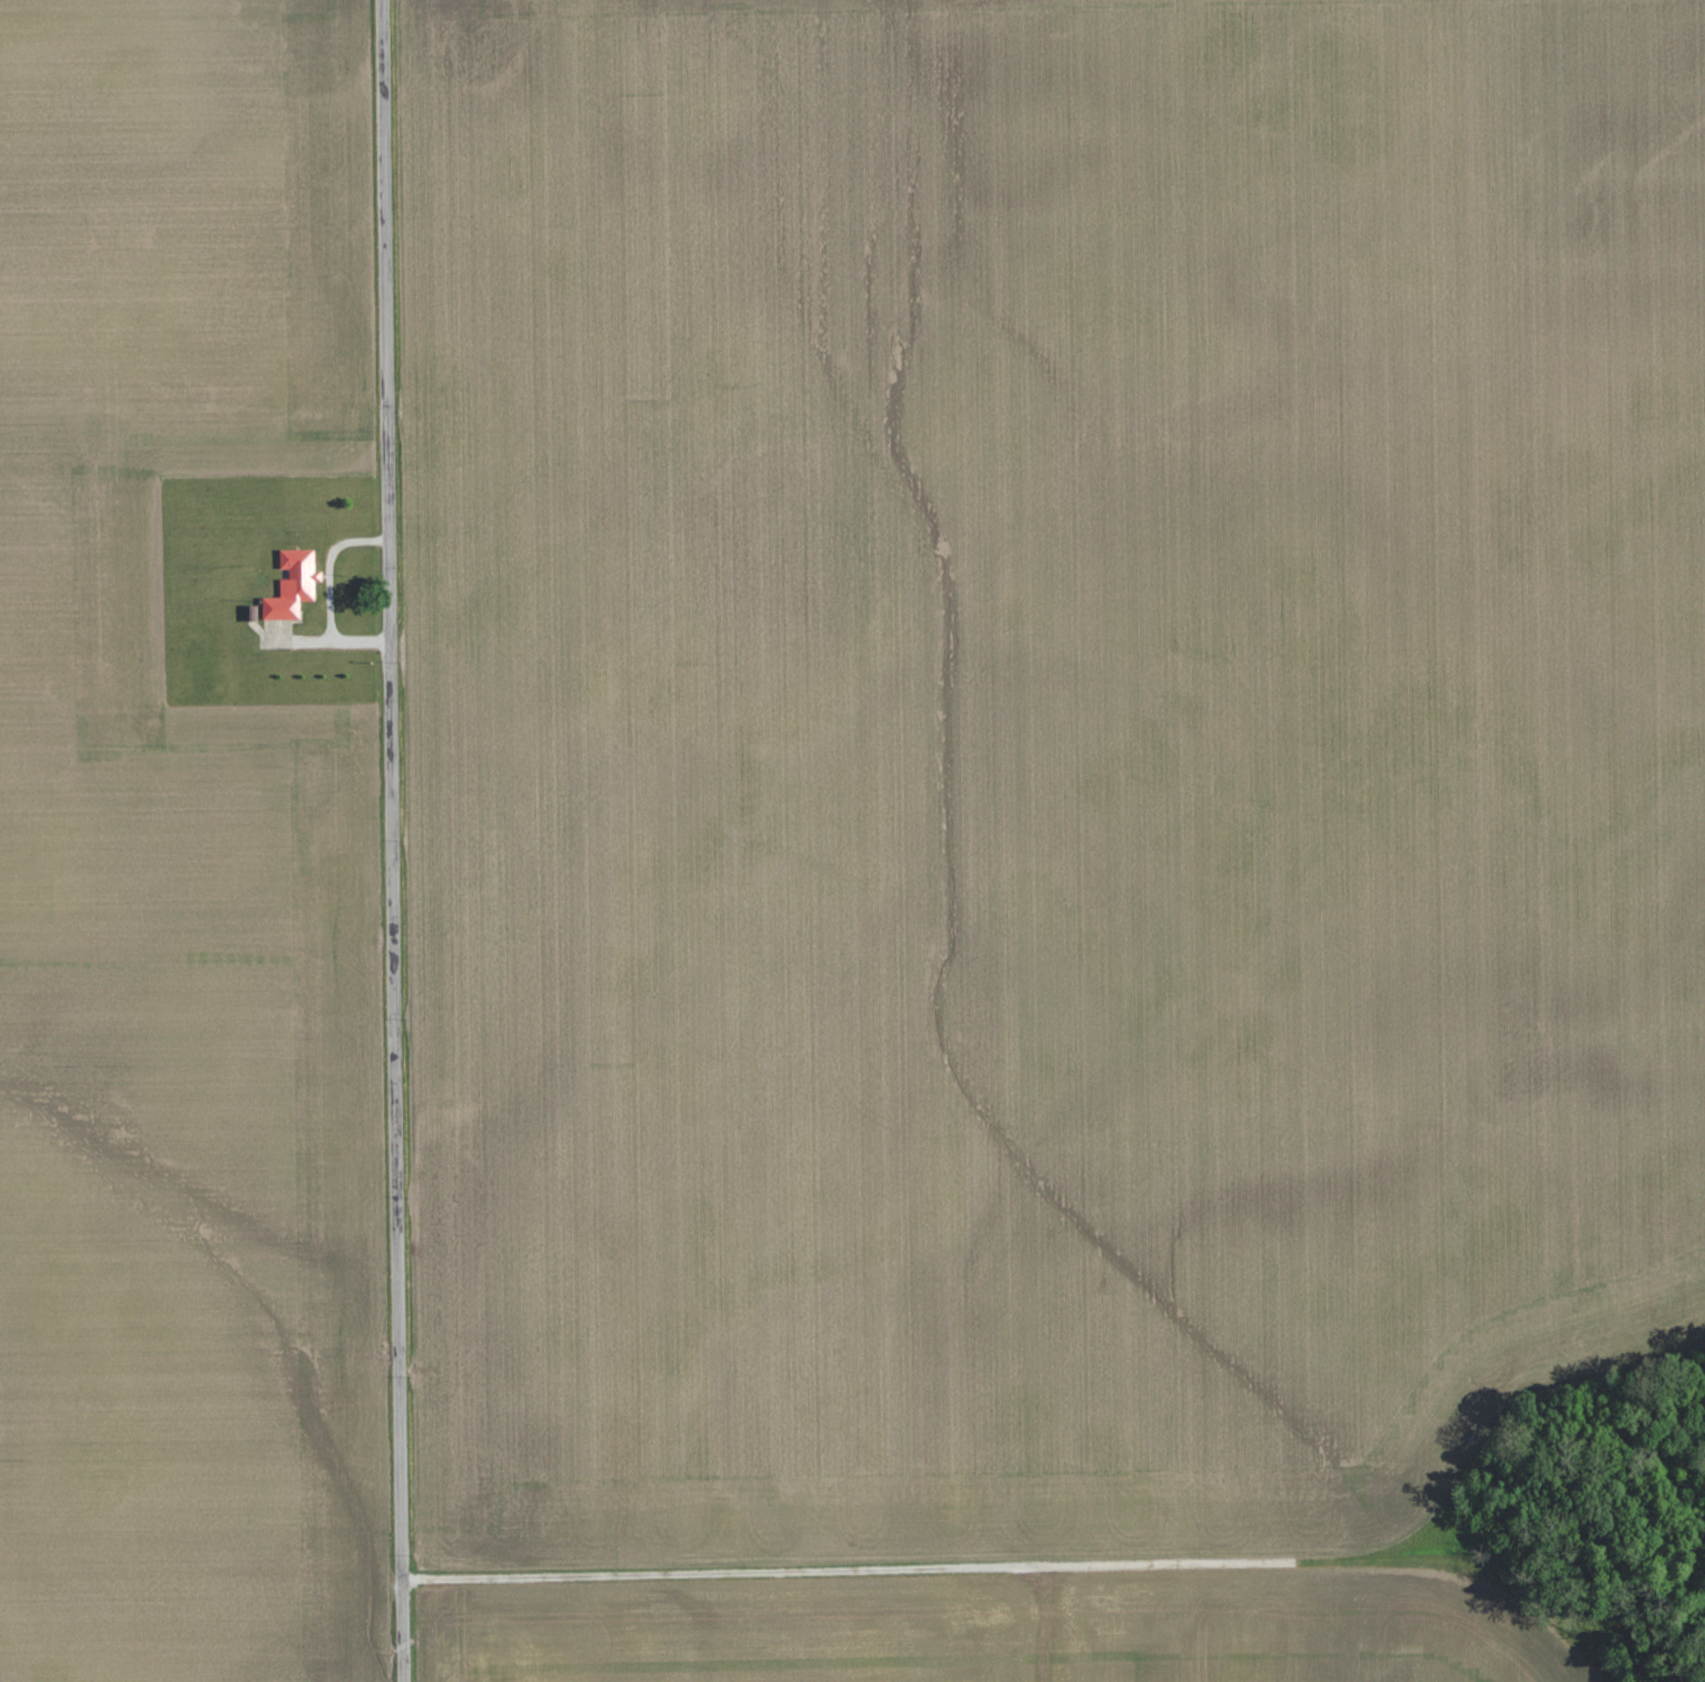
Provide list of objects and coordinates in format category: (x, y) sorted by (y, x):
building: (290, 586)
road: (394, 840)

